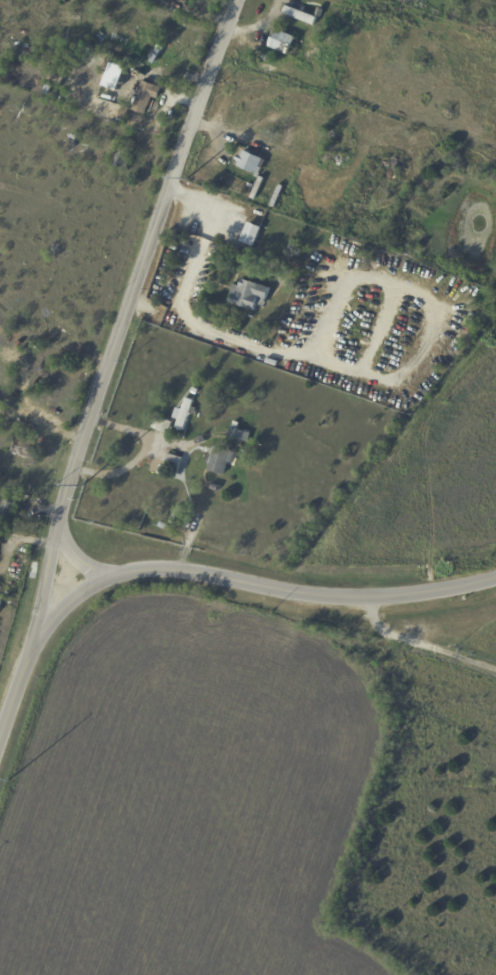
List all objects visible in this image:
building: (406, 8)
building: (299, 13)
building: (366, 35)
building: (283, 42)
building: (261, 47)
building: (58, 55)
building: (96, 66)
building: (73, 70)
building: (123, 71)
building: (277, 71)
building: (146, 96)
building: (124, 114)
building: (77, 138)
building: (307, 139)
building: (341, 151)
building: (123, 157)
building: (251, 162)
building: (296, 173)
building: (268, 192)
building: (352, 200)
building: (251, 236)
building: (293, 245)
building: (250, 295)
road: (123, 316)
building: (271, 360)
building: (195, 391)
building: (225, 399)
building: (185, 413)
building: (240, 432)
building: (22, 445)
road: (142, 452)
building: (221, 459)
building: (8, 502)
building: (177, 514)
building: (165, 525)
road: (77, 556)
road: (199, 574)
building: (1, 604)
road: (422, 643)

